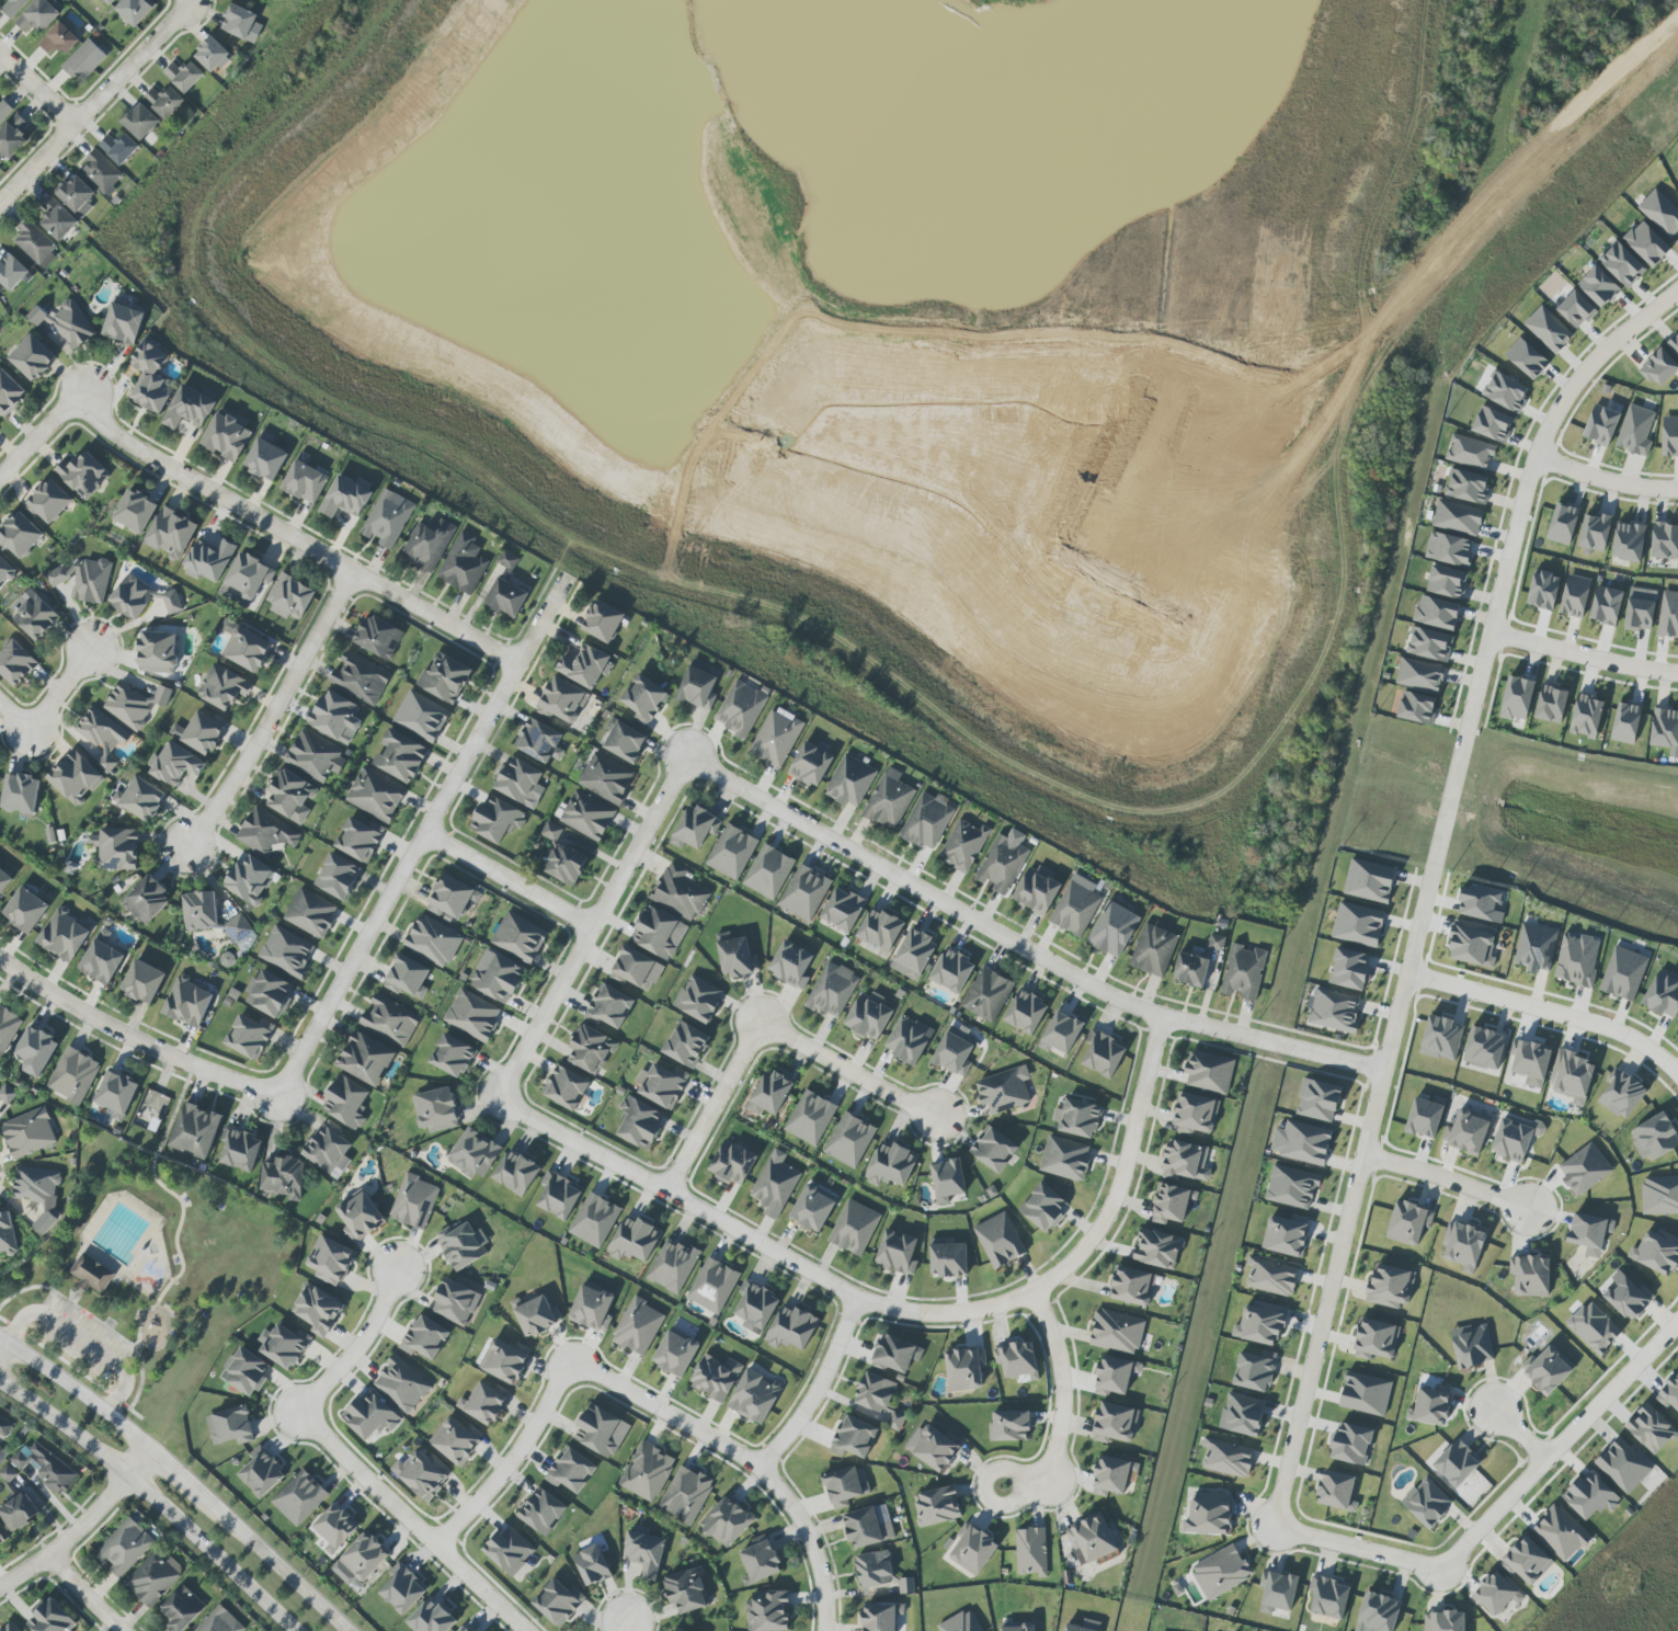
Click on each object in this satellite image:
building: (110, 1)
road: (187, 1)
building: (13, 7)
building: (135, 10)
building: (37, 16)
building: (238, 22)
building: (59, 39)
building: (212, 55)
building: (83, 61)
building: (184, 76)
road: (37, 89)
building: (164, 102)
road: (95, 104)
building: (4, 111)
building: (140, 122)
building: (12, 137)
building: (118, 148)
road: (1519, 167)
building: (101, 172)
building: (76, 195)
building: (1660, 213)
building: (57, 219)
building: (1646, 243)
building: (35, 244)
building: (1621, 264)
building: (11, 272)
building: (1598, 287)
building: (1576, 310)
building: (67, 323)
building: (123, 324)
building: (1548, 329)
building: (1674, 344)
road: (1605, 354)
building: (33, 357)
building: (1527, 358)
building: (1658, 367)
building: (150, 377)
building: (1506, 392)
building: (9, 394)
building: (189, 408)
building: (1492, 424)
building: (1601, 425)
building: (1635, 431)
building: (1669, 436)
building: (226, 437)
road: (37, 438)
building: (1470, 452)
building: (265, 460)
road: (1551, 464)
building: (83, 475)
building: (305, 482)
road: (1621, 484)
building: (1466, 487)
building: (345, 498)
building: (48, 501)
building: (135, 512)
building: (1458, 517)
building: (387, 520)
building: (1563, 524)
building: (1595, 532)
building: (171, 534)
building: (20, 535)
road: (293, 537)
building: (1665, 540)
building: (1629, 541)
building: (427, 545)
building: (1448, 549)
building: (209, 560)
building: (507, 560)
building: (464, 564)
building: (4, 570)
building: (247, 578)
building: (84, 580)
building: (1447, 582)
building: (1543, 591)
building: (1575, 596)
building: (289, 597)
building: (506, 597)
building: (132, 598)
building: (172, 602)
building: (1606, 606)
building: (1640, 609)
building: (1437, 613)
building: (34, 615)
building: (1668, 615)
building: (603, 621)
building: (377, 637)
building: (1429, 645)
building: (246, 648)
building: (158, 652)
road: (1582, 658)
building: (16, 663)
building: (585, 666)
building: (1419, 675)
building: (359, 678)
building: (445, 678)
building: (222, 687)
building: (697, 688)
building: (1517, 698)
building: (643, 699)
building: (562, 700)
building: (1551, 704)
road: (46, 705)
building: (135, 705)
building: (1416, 708)
building: (740, 709)
road: (273, 712)
building: (422, 716)
building: (335, 717)
building: (1586, 717)
building: (1625, 723)
building: (1664, 728)
building: (199, 733)
building: (102, 737)
building: (776, 738)
building: (539, 741)
building: (625, 742)
building: (315, 756)
building: (400, 756)
building: (174, 764)
building: (810, 765)
building: (75, 777)
building: (606, 779)
building: (851, 782)
building: (520, 783)
building: (20, 795)
building: (376, 795)
building: (290, 797)
building: (140, 799)
building: (889, 800)
building: (587, 816)
building: (496, 820)
building: (926, 822)
building: (694, 828)
building: (266, 833)
road: (421, 836)
building: (359, 839)
building: (963, 845)
building: (116, 848)
building: (731, 852)
building: (1002, 864)
building: (768, 872)
building: (338, 877)
road: (507, 879)
building: (3, 880)
building: (249, 880)
building: (1369, 881)
building: (1036, 890)
building: (682, 892)
building: (804, 893)
building: (452, 898)
building: (147, 900)
building: (1481, 903)
building: (1076, 906)
building: (843, 909)
building: (25, 910)
building: (199, 911)
building: (310, 913)
building: (1358, 924)
road: (590, 929)
building: (880, 929)
building: (1114, 929)
building: (659, 933)
building: (62, 935)
building: (520, 937)
building: (433, 940)
building: (1217, 943)
building: (1471, 946)
road: (1019, 947)
building: (1536, 948)
building: (1153, 950)
building: (286, 951)
building: (913, 955)
building: (735, 957)
building: (102, 959)
building: (1576, 959)
building: (791, 965)
building: (636, 969)
building: (1191, 970)
building: (1349, 970)
building: (952, 971)
building: (1243, 972)
building: (1623, 973)
building: (407, 977)
building: (498, 977)
road: (1407, 978)
building: (142, 982)
building: (832, 990)
building: (269, 994)
building: (1663, 994)
building: (988, 995)
building: (698, 999)
building: (187, 1003)
building: (608, 1007)
building: (1334, 1011)
building: (1026, 1012)
road: (1550, 1013)
building: (472, 1015)
building: (868, 1018)
building: (389, 1020)
road: (762, 1027)
building: (8, 1028)
building: (1061, 1034)
building: (249, 1037)
road: (134, 1038)
building: (1441, 1038)
building: (908, 1040)
building: (685, 1045)
building: (591, 1049)
building: (1484, 1049)
building: (35, 1051)
building: (954, 1053)
building: (1103, 1053)
building: (452, 1056)
building: (366, 1059)
building: (1530, 1062)
building: (1209, 1072)
building: (72, 1075)
building: (1572, 1076)
building: (661, 1085)
building: (566, 1088)
building: (1004, 1090)
building: (7, 1094)
building: (116, 1094)
building: (770, 1094)
building: (1621, 1094)
building: (1317, 1100)
building: (346, 1103)
building: (153, 1108)
building: (436, 1110)
building: (1195, 1114)
building: (810, 1118)
building: (1078, 1118)
building: (1424, 1118)
building: (639, 1125)
building: (196, 1131)
building: (28, 1133)
building: (1466, 1133)
building: (1654, 1138)
building: (1515, 1139)
building: (849, 1140)
building: (1304, 1143)
building: (240, 1149)
building: (328, 1149)
building: (993, 1150)
building: (475, 1154)
building: (1065, 1159)
building: (1185, 1162)
building: (732, 1163)
building: (891, 1165)
building: (1584, 1170)
building: (515, 1173)
building: (283, 1177)
building: (947, 1181)
road: (1447, 1181)
building: (775, 1184)
building: (1291, 1187)
road: (163, 1188)
building: (38, 1193)
building: (558, 1195)
building: (1659, 1195)
building: (413, 1201)
building: (1171, 1204)
building: (1043, 1207)
building: (813, 1208)
building: (358, 1214)
building: (594, 1220)
building: (1408, 1223)
building: (854, 1228)
building: (1589, 1233)
building: (7, 1234)
building: (1285, 1236)
building: (635, 1240)
building: (1000, 1240)
building: (463, 1245)
building: (1462, 1245)
building: (1157, 1248)
building: (897, 1253)
building: (330, 1261)
building: (948, 1261)
building: (672, 1266)
building: (92, 1274)
building: (1530, 1275)
building: (1271, 1276)
park: (146, 1285)
building: (712, 1286)
building: (1132, 1286)
building: (1391, 1286)
building: (1625, 1297)
building: (455, 1302)
road: (44, 1303)
building: (755, 1307)
building: (592, 1308)
road: (148, 1310)
building: (318, 1310)
road: (897, 1312)
building: (534, 1315)
road: (65, 1316)
road: (94, 1323)
building: (1260, 1324)
building: (638, 1327)
building: (1594, 1327)
building: (791, 1328)
building: (1117, 1332)
building: (424, 1338)
building: (1375, 1339)
road: (81, 1341)
building: (284, 1346)
building: (1472, 1346)
road: (2, 1350)
building: (675, 1353)
building: (895, 1354)
building: (1017, 1360)
road: (129, 1361)
building: (504, 1361)
road: (1641, 1362)
road: (71, 1368)
building: (964, 1368)
building: (1546, 1370)
building: (1254, 1371)
building: (244, 1372)
building: (1115, 1376)
building: (715, 1377)
building: (401, 1384)
road: (817, 1389)
road: (77, 1392)
building: (875, 1392)
building: (1669, 1393)
building: (1366, 1394)
building: (754, 1398)
road: (642, 1402)
building: (483, 1404)
road: (1060, 1407)
building: (1430, 1407)
building: (1242, 1414)
building: (369, 1416)
building: (898, 1417)
building: (1115, 1423)
building: (4, 1426)
building: (230, 1426)
building: (1009, 1426)
building: (1651, 1429)
building: (601, 1432)
road: (1520, 1436)
building: (854, 1437)
building: (454, 1440)
building: (1351, 1445)
building: (935, 1449)
building: (1, 1453)
building: (1226, 1459)
road: (344, 1461)
building: (1457, 1463)
building: (1623, 1465)
building: (45, 1467)
building: (570, 1470)
building: (261, 1472)
building: (647, 1472)
road: (175, 1473)
building: (8, 1474)
building: (421, 1474)
building: (1112, 1475)
road: (1520, 1486)
building: (845, 1487)
building: (1336, 1491)
building: (685, 1494)
building: (1590, 1496)
building: (299, 1497)
road: (156, 1498)
building: (1427, 1503)
building: (937, 1506)
building: (19, 1512)
building: (541, 1512)
building: (1209, 1516)
building: (726, 1522)
road: (82, 1526)
building: (868, 1526)
building: (334, 1527)
building: (1561, 1532)
building: (2, 1536)
building: (1091, 1539)
building: (125, 1548)
building: (510, 1550)
building: (972, 1550)
road: (1354, 1550)
building: (1030, 1552)
building: (644, 1553)
building: (361, 1560)
building: (1527, 1561)
road: (275, 1563)
building: (758, 1563)
building: (592, 1565)
building: (875, 1569)
building: (1221, 1572)
building: (152, 1579)
building: (402, 1588)
building: (686, 1590)
building: (1277, 1592)
road: (85, 1593)
building: (1496, 1594)
building: (1328, 1597)
building: (558, 1601)
building: (182, 1609)
building: (767, 1611)
building: (1378, 1613)
building: (880, 1616)
building: (49, 1618)
building: (431, 1618)
building: (220, 1621)
building: (1445, 1621)
building: (962, 1622)
road: (617, 1626)
building: (11, 1627)
building: (1018, 1627)
building: (464, 1629)
building: (675, 1630)

